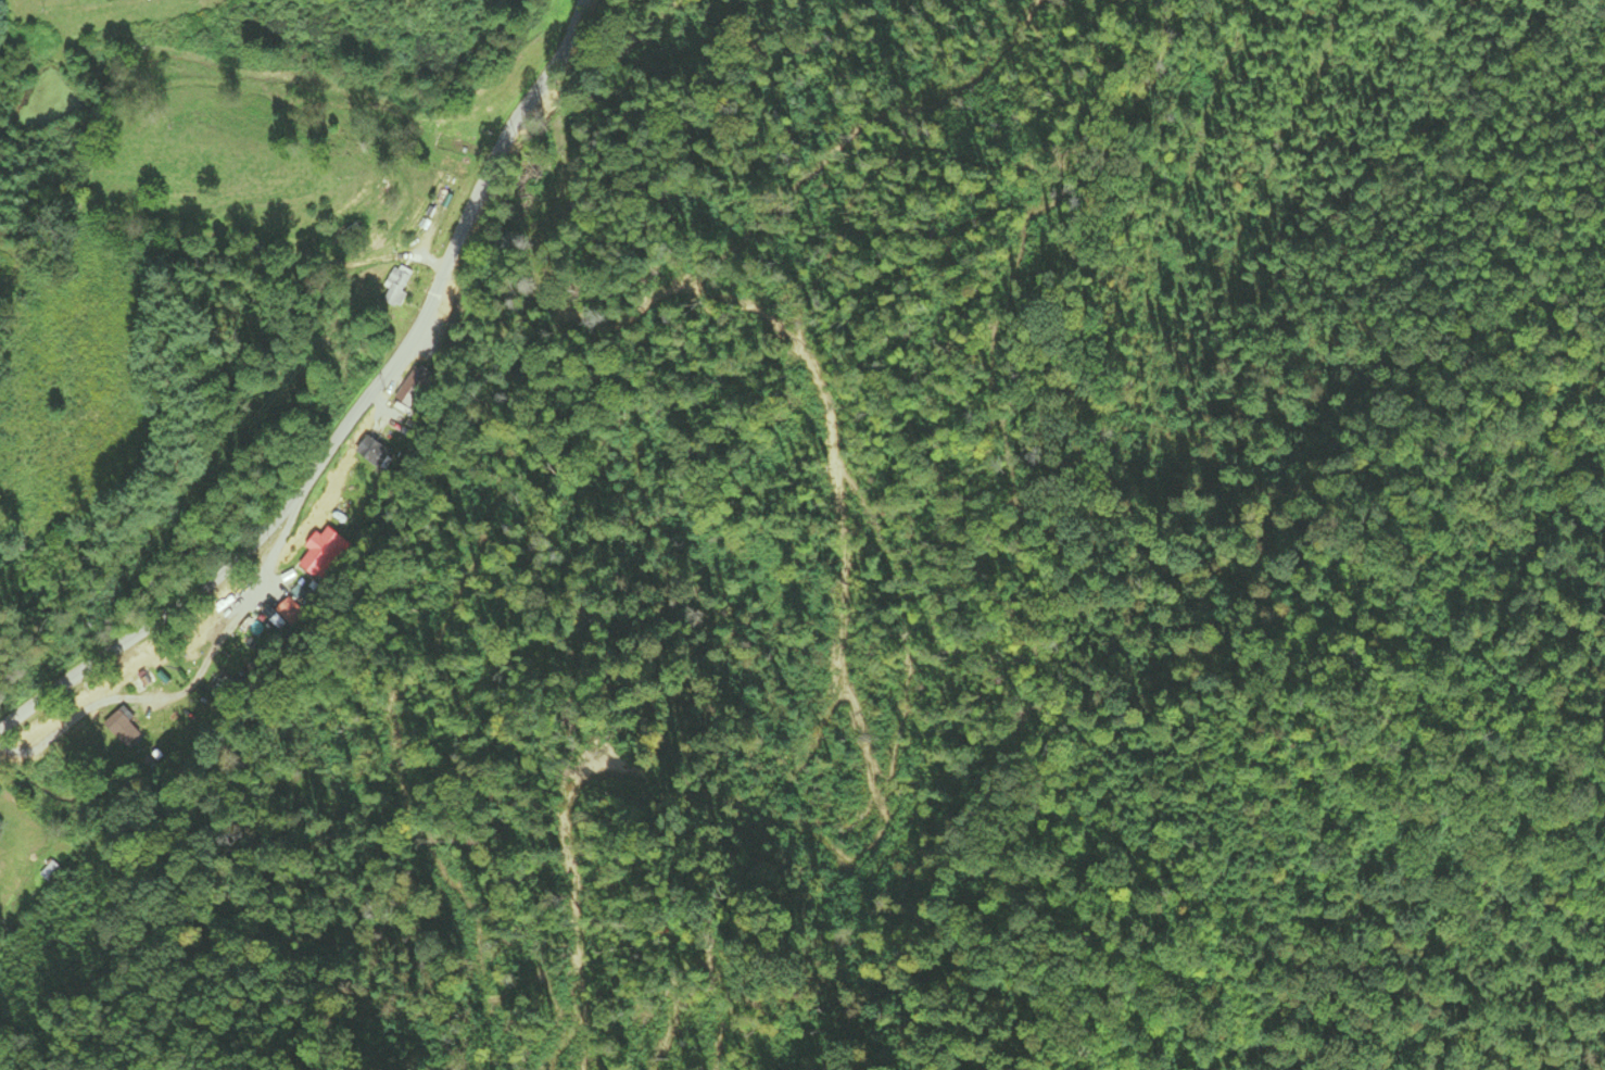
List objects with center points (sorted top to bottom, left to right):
building: (452, 141)
building: (394, 285)
building: (416, 387)
road: (354, 417)
building: (377, 455)
building: (324, 554)
building: (291, 610)

